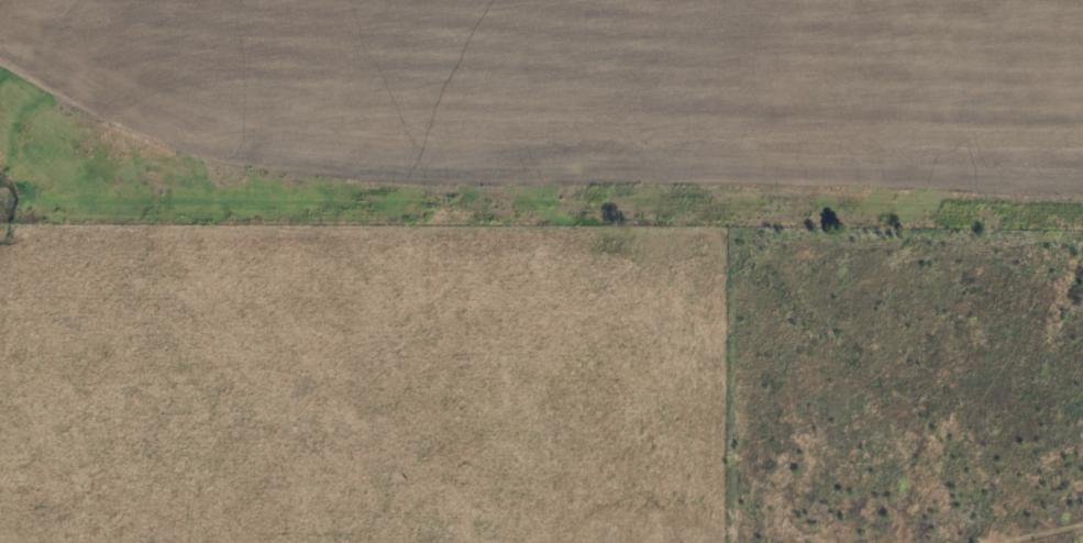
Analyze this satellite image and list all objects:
crop: (603, 101)

